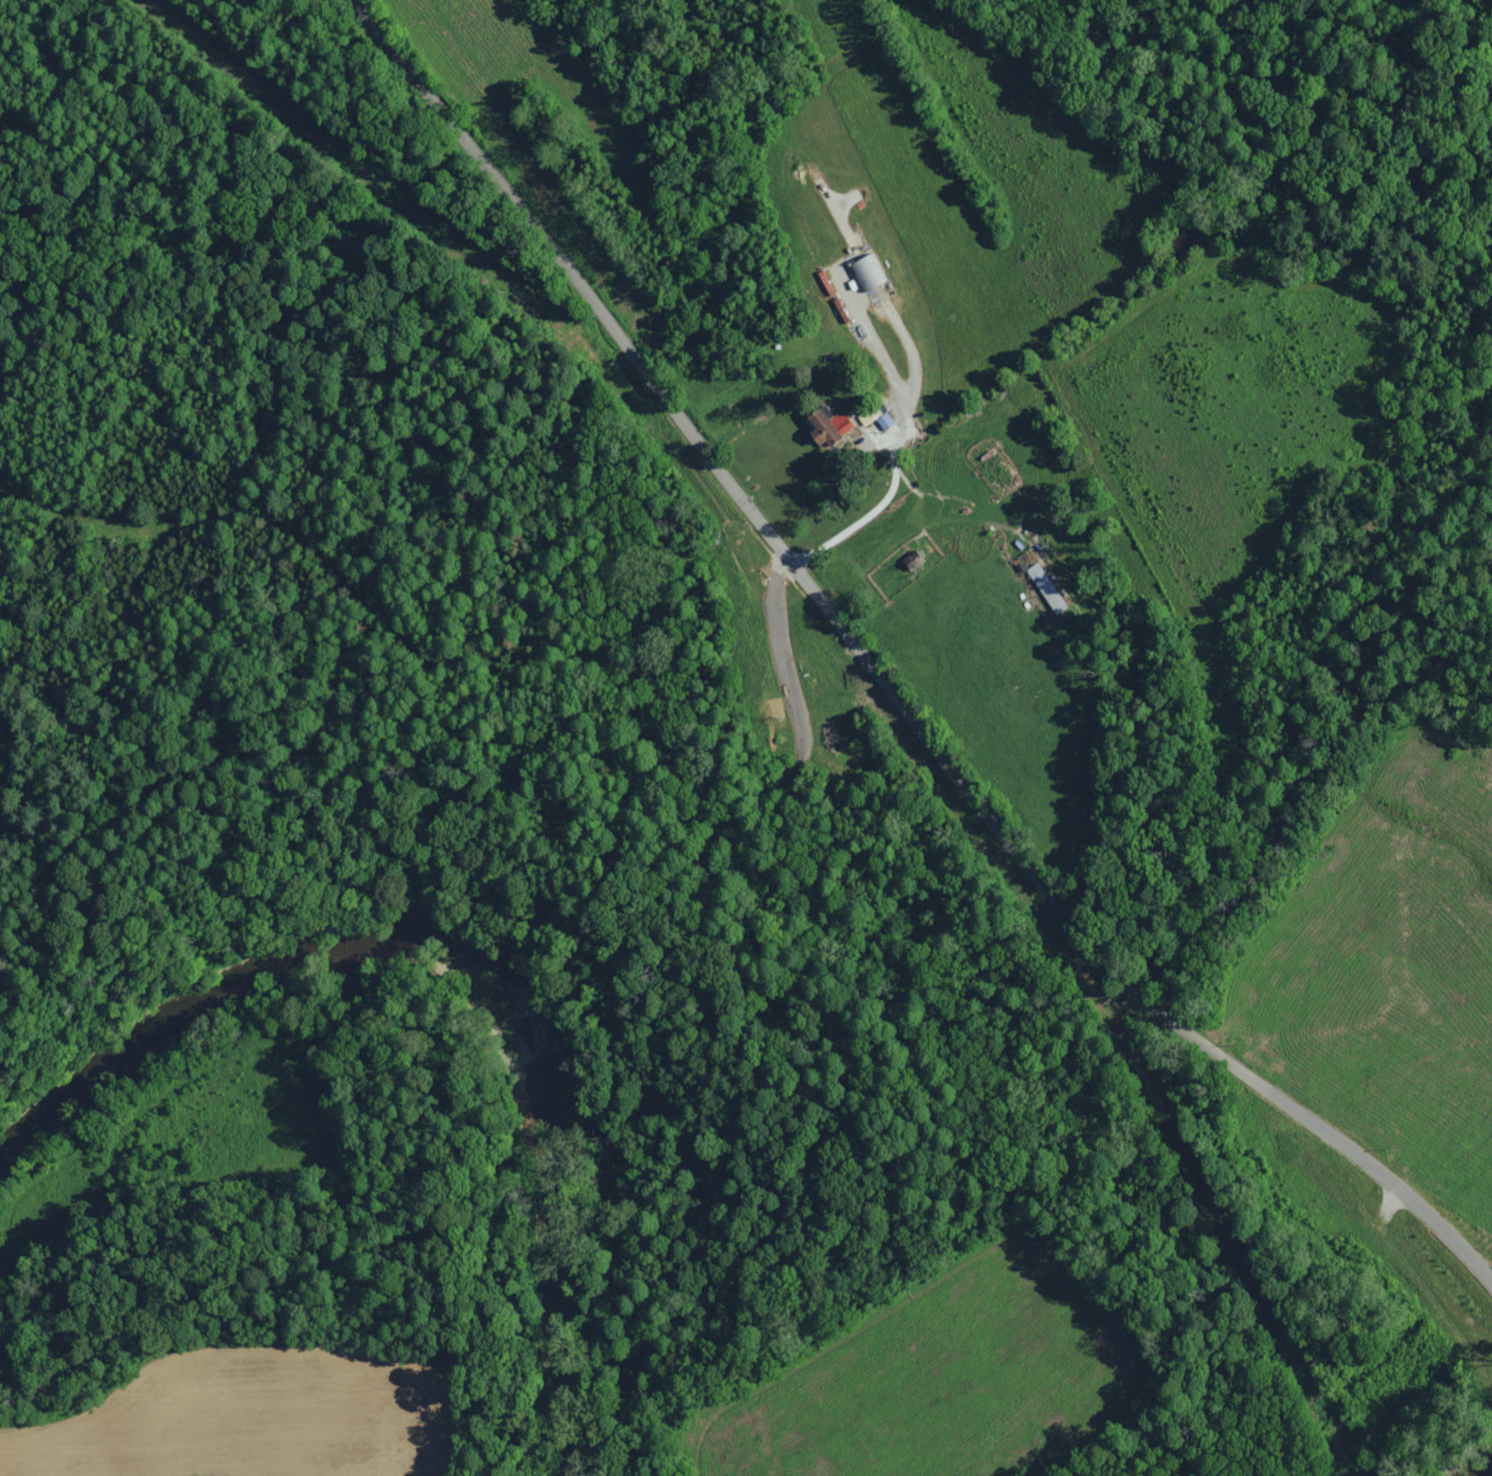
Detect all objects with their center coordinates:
building: (870, 273)
building: (887, 422)
building: (832, 427)
road: (882, 506)
building: (1049, 587)
road: (881, 665)

